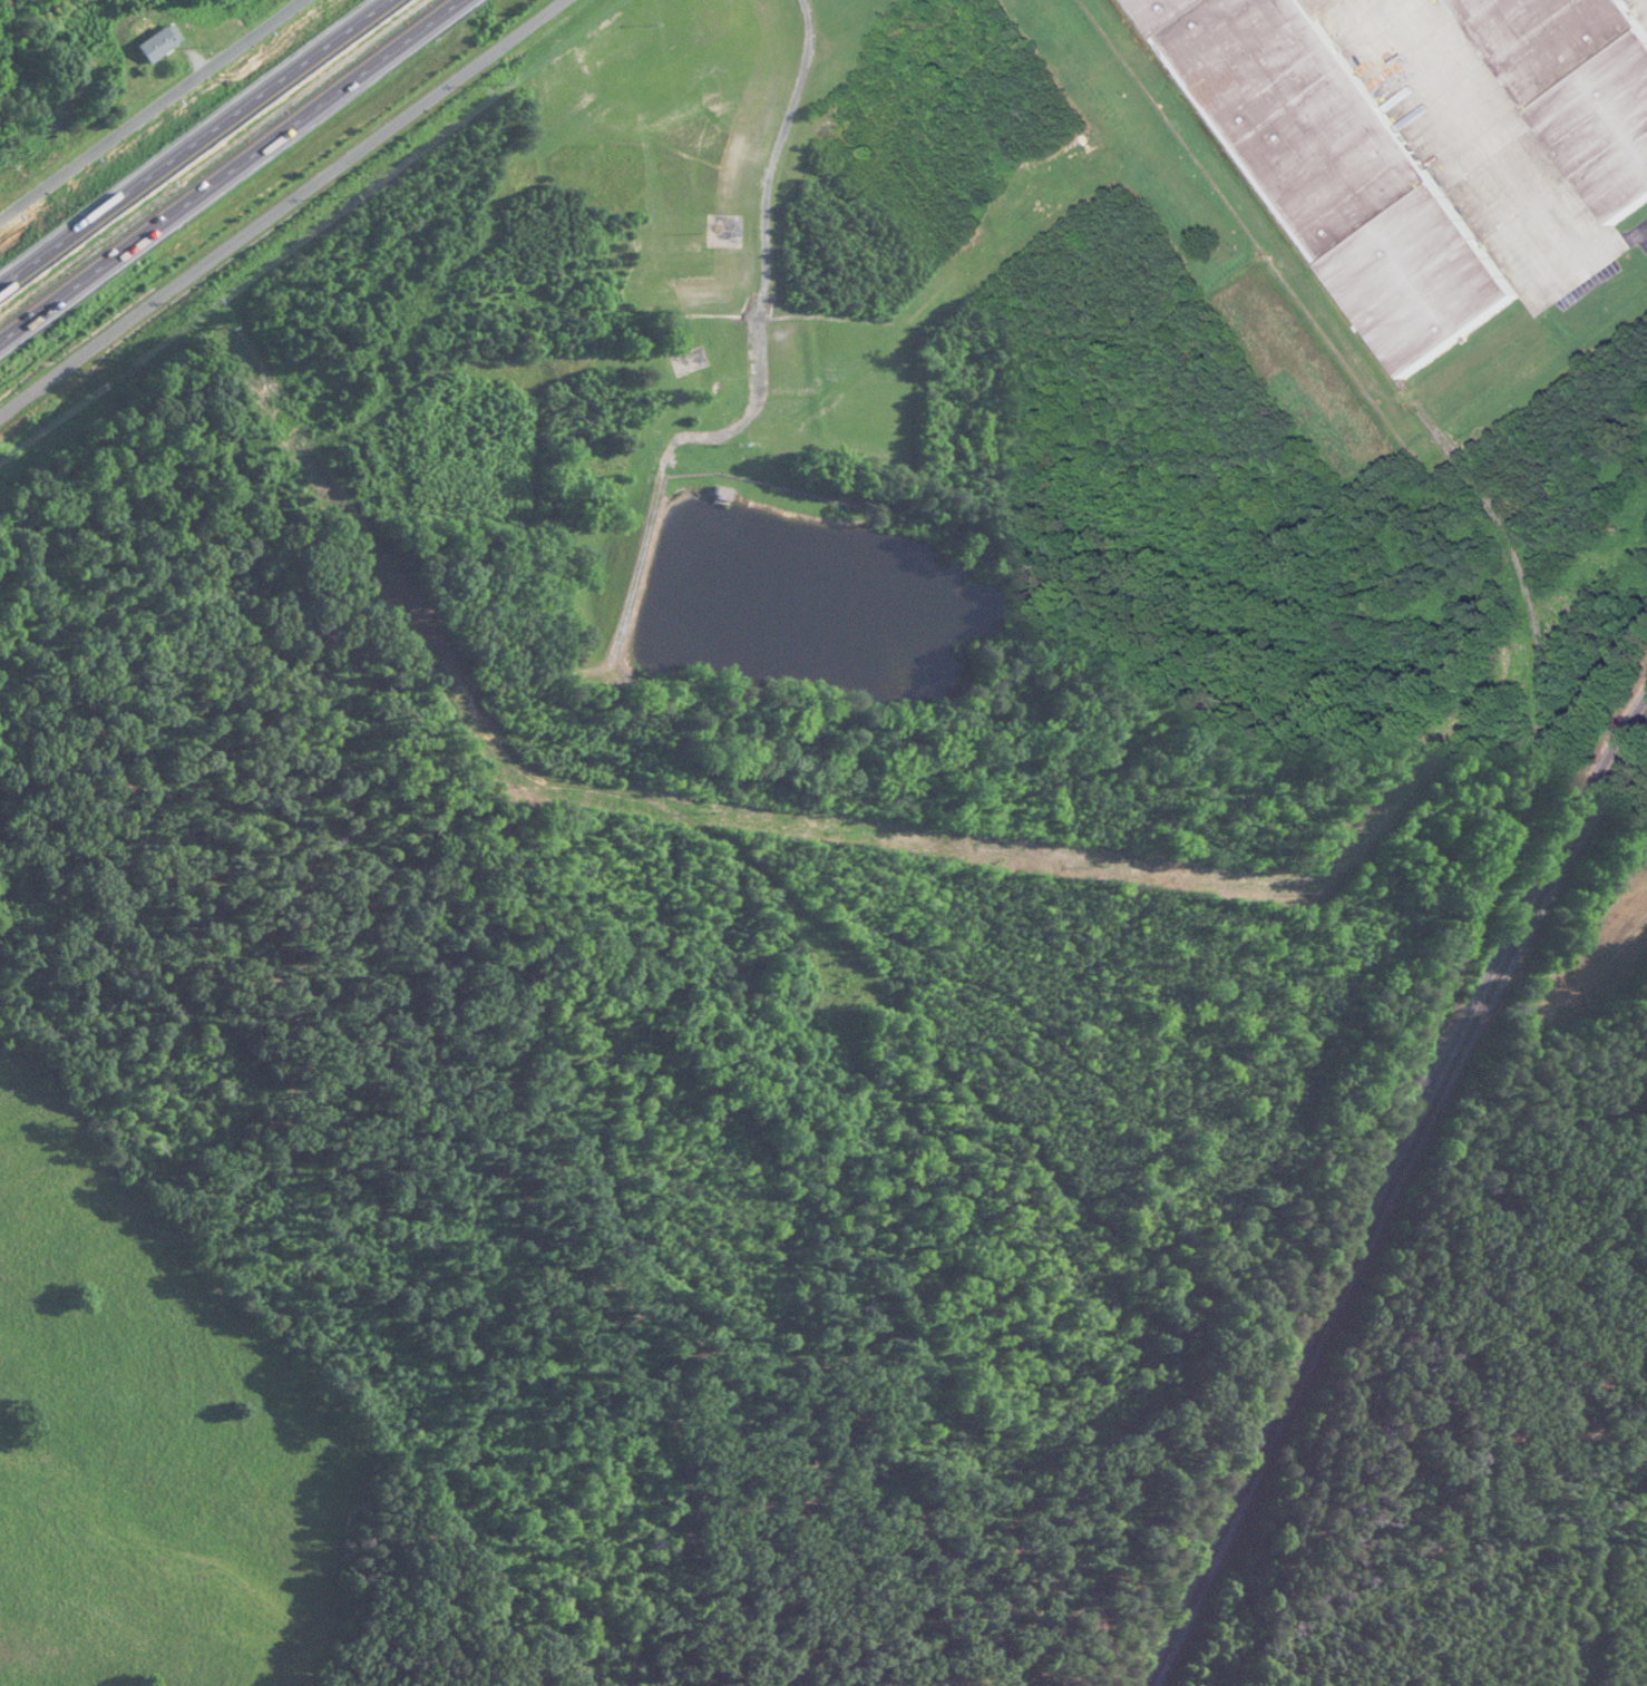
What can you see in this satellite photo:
building: (156, 47)
building: (1576, 86)
road: (156, 115)
road: (194, 143)
road: (227, 167)
building: (1335, 168)
road: (282, 207)
road: (1638, 237)
building: (720, 497)
railway: (1519, 565)
railway: (1600, 773)
railway: (1396, 1207)
railway: (1345, 1265)

